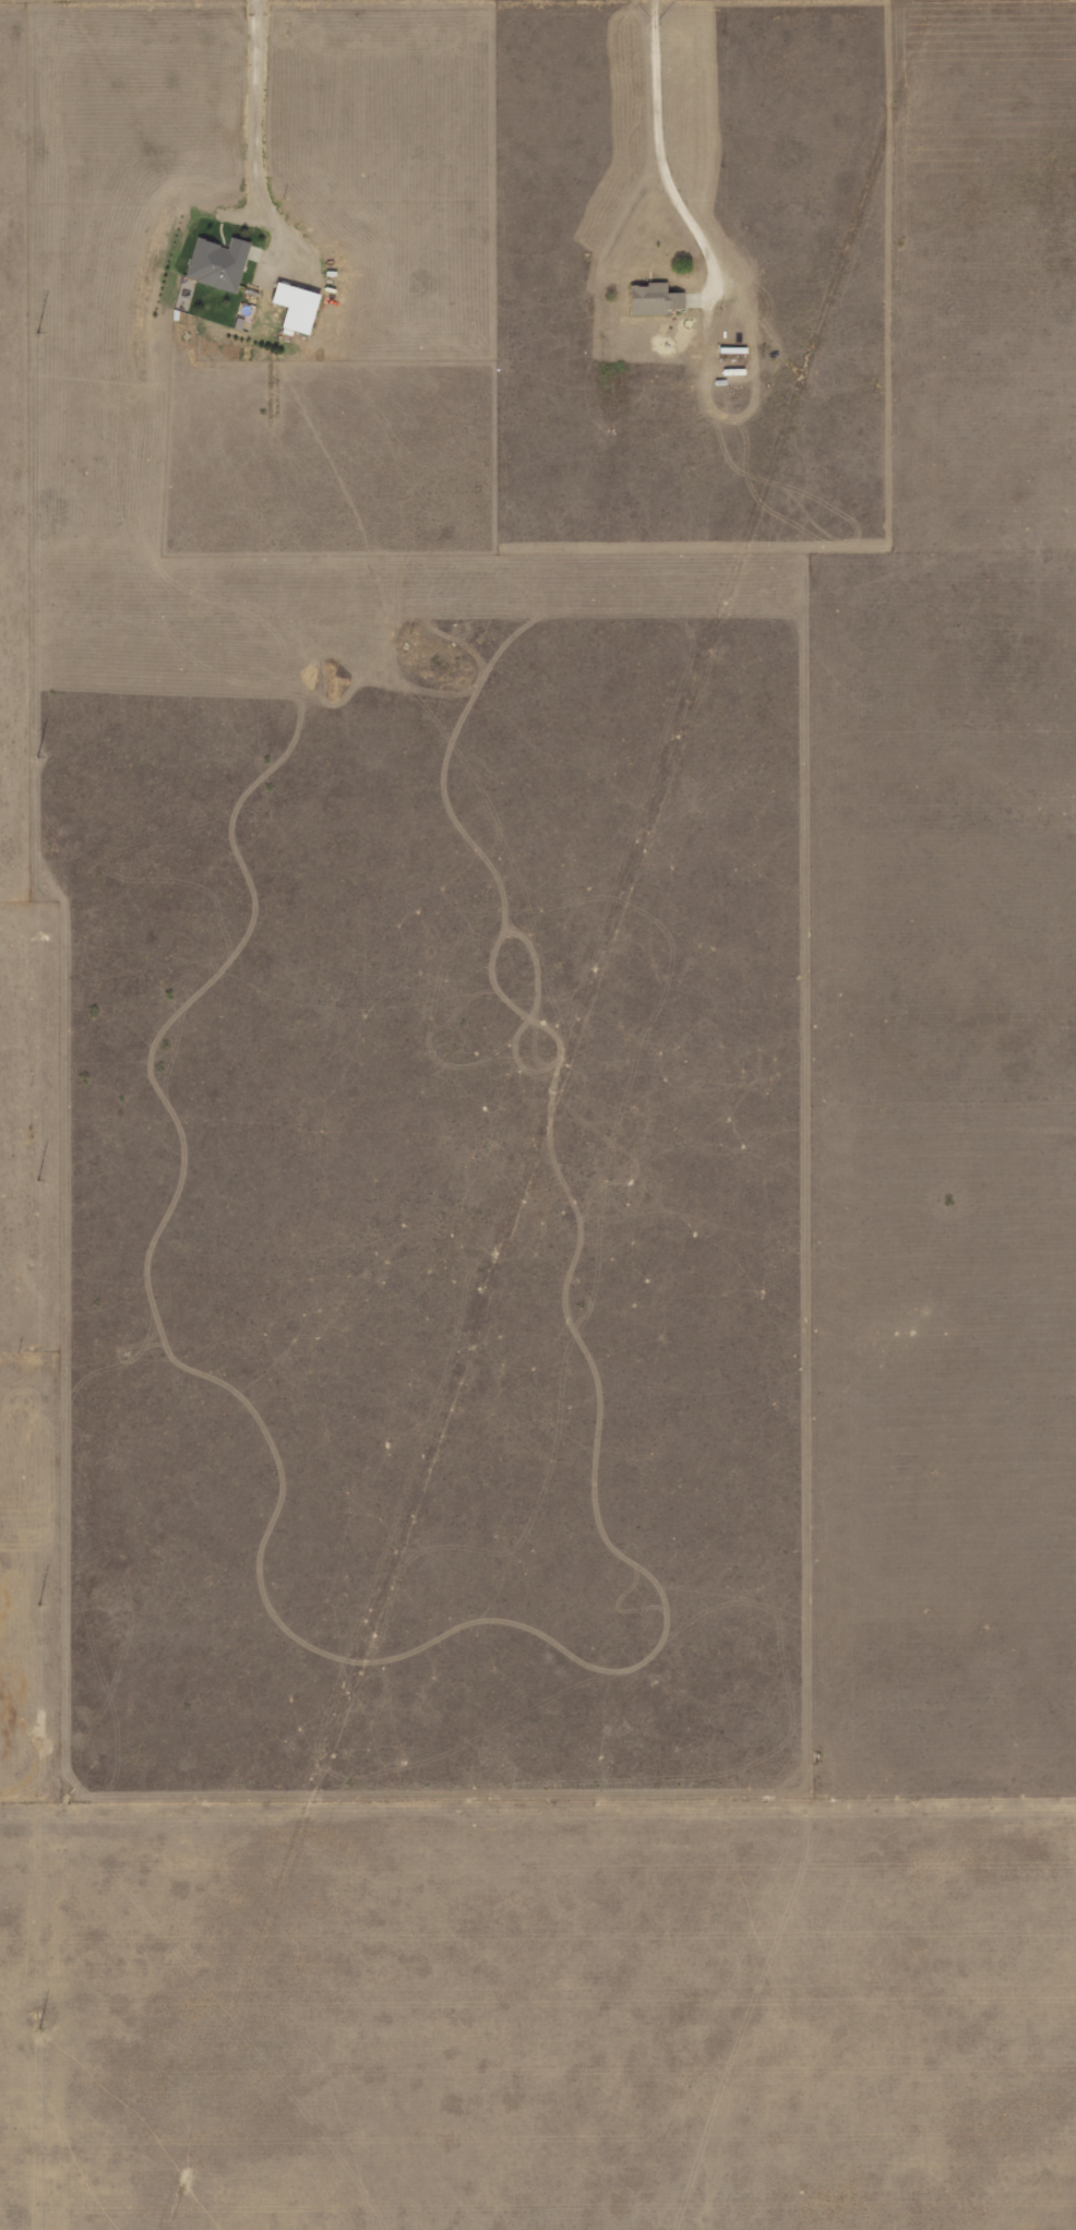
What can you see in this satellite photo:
road: (253, 145)
road: (657, 159)
building: (217, 262)
building: (650, 300)
building: (297, 311)

